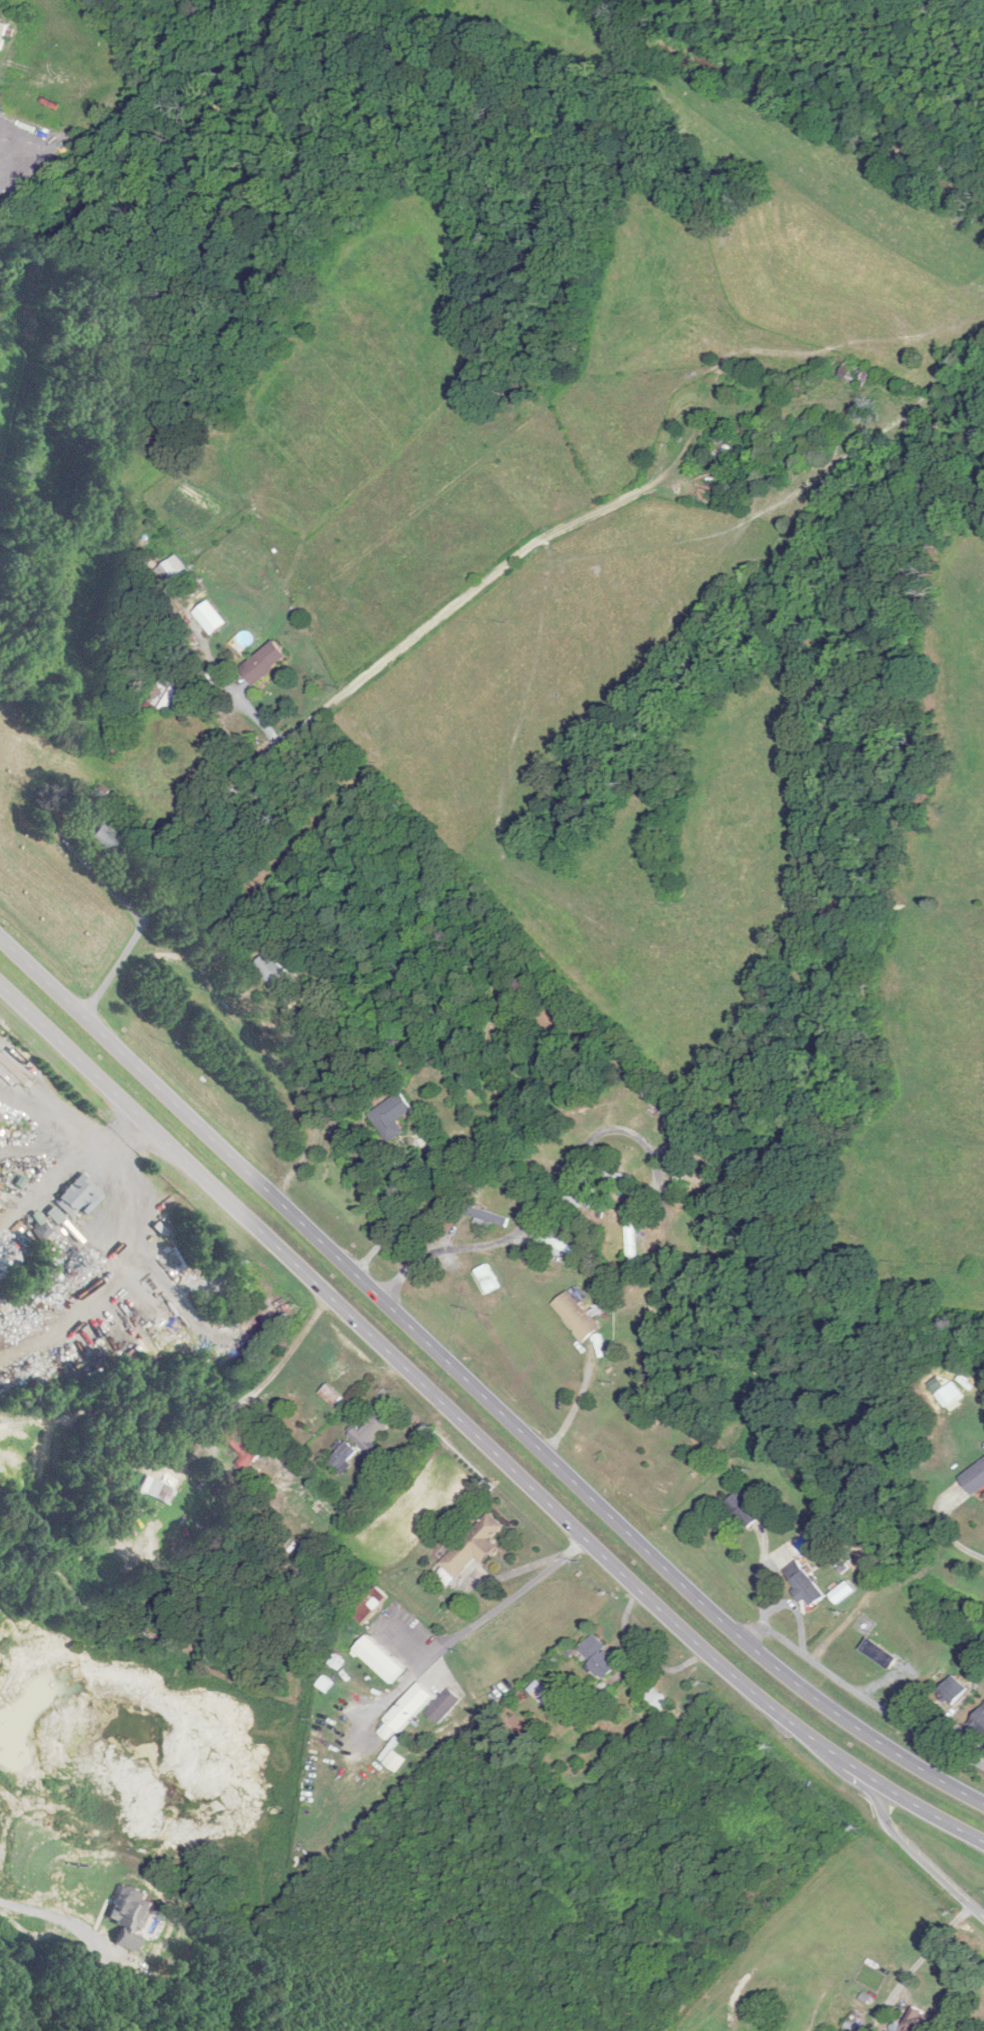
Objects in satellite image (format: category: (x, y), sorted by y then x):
building: (4, 34)
building: (857, 374)
building: (723, 440)
building: (170, 571)
building: (212, 618)
building: (265, 663)
building: (169, 692)
road: (229, 693)
road: (294, 730)
building: (99, 797)
building: (104, 839)
building: (267, 966)
building: (651, 1098)
building: (392, 1115)
building: (684, 1160)
building: (612, 1175)
building: (76, 1194)
road: (541, 1200)
building: (53, 1213)
building: (485, 1215)
road: (393, 1220)
building: (41, 1230)
building: (631, 1244)
building: (558, 1245)
building: (487, 1279)
building: (576, 1316)
road: (286, 1354)
road: (339, 1358)
road: (476, 1389)
building: (330, 1395)
road: (575, 1406)
building: (369, 1431)
road: (474, 1434)
building: (241, 1442)
building: (344, 1458)
building: (667, 1477)
building: (974, 1479)
building: (160, 1491)
building: (743, 1509)
road: (957, 1545)
building: (473, 1548)
road: (521, 1569)
building: (803, 1584)
building: (371, 1605)
road: (480, 1620)
building: (599, 1658)
building: (379, 1660)
building: (953, 1690)
road: (861, 1695)
building: (657, 1700)
building: (443, 1706)
building: (405, 1712)
building: (978, 1723)
road: (919, 1855)
road: (920, 1955)
building: (926, 2024)

